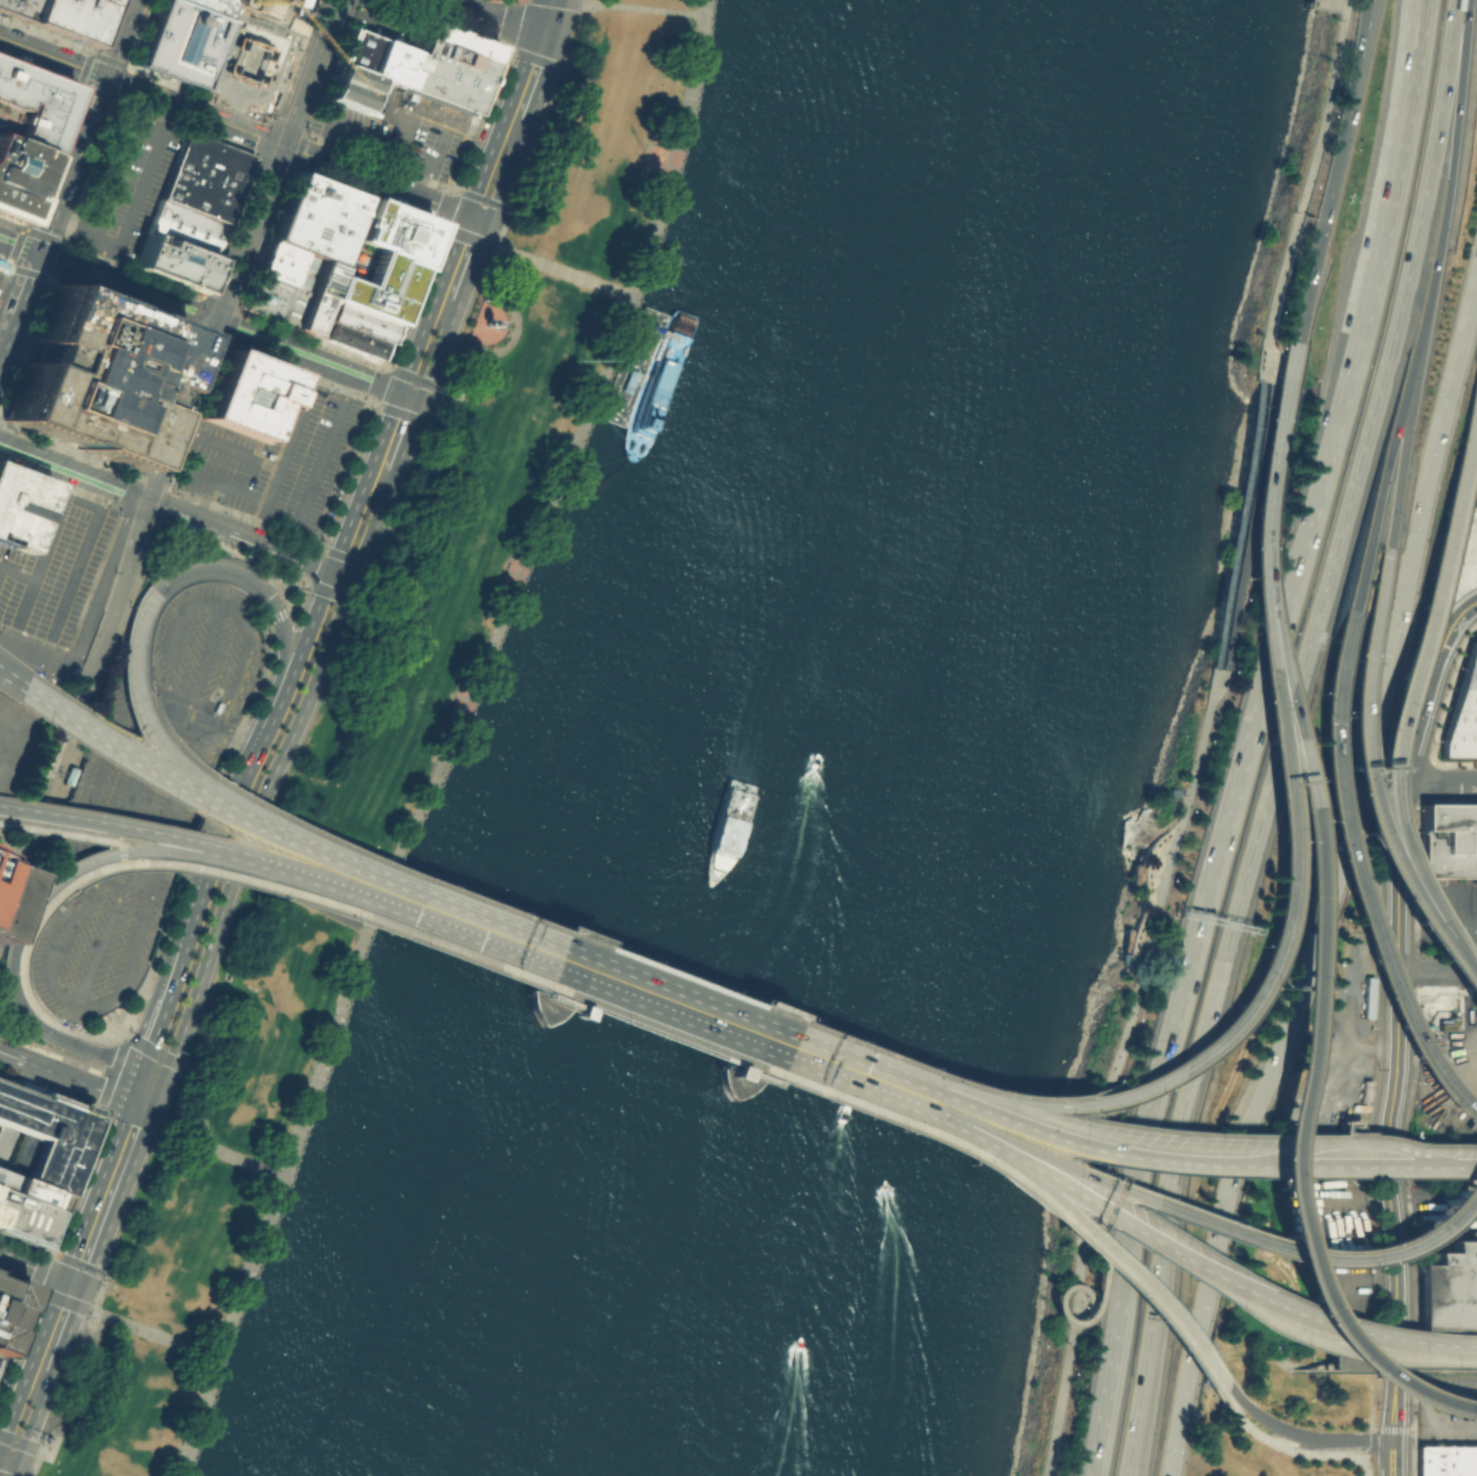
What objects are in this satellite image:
road: (569, 1)
road: (1339, 1)
road: (1347, 1)
road: (662, 4)
road: (253, 5)
building: (207, 6)
road: (640, 6)
building: (14, 9)
parking lot: (274, 12)
road: (289, 12)
road: (492, 17)
road: (548, 17)
building: (64, 18)
parking lot: (387, 24)
road: (393, 25)
traffic signals: (544, 34)
road: (118, 38)
building: (458, 40)
road: (1365, 40)
road: (1360, 41)
building: (179, 42)
road: (52, 56)
building: (372, 58)
building: (247, 61)
road: (1400, 70)
road: (1417, 71)
building: (444, 75)
traffic signals: (104, 77)
road: (542, 78)
building: (350, 89)
road: (115, 99)
road: (117, 100)
building: (29, 107)
road: (500, 121)
road: (409, 122)
parking lot: (390, 133)
road: (367, 134)
traffic signals: (283, 146)
road: (284, 146)
road: (671, 148)
road: (272, 161)
road: (277, 161)
road: (70, 165)
road: (433, 165)
road: (1308, 169)
road: (507, 171)
building: (112, 176)
road: (117, 176)
building: (205, 177)
building: (17, 178)
road: (1448, 181)
parking lot: (126, 187)
building: (323, 194)
road: (136, 204)
road: (1324, 211)
traffic signals: (466, 214)
road: (477, 218)
road: (436, 222)
traffic signals: (489, 222)
road: (440, 223)
building: (186, 228)
building: (309, 228)
road: (43, 234)
road: (477, 240)
road: (18, 246)
traffic signals: (37, 254)
road: (55, 259)
road: (103, 259)
parking lot: (376, 260)
road: (13, 263)
building: (172, 263)
road: (473, 263)
building: (276, 264)
parking lot: (2, 270)
road: (7, 270)
road: (561, 271)
road: (504, 275)
road: (125, 287)
road: (366, 293)
building: (279, 294)
building: (313, 296)
road: (18, 302)
road: (218, 302)
road: (432, 303)
road: (120, 305)
road: (196, 315)
road: (625, 317)
road: (233, 318)
building: (353, 320)
traffic signals: (214, 322)
road: (492, 327)
road: (652, 328)
road: (496, 329)
road: (225, 335)
building: (346, 338)
road: (205, 339)
road: (25, 343)
road: (439, 352)
road: (490, 354)
road: (306, 357)
flagpole: (574, 358)
road: (1263, 358)
road: (387, 364)
road: (195, 365)
road: (379, 365)
building: (638, 367)
road: (398, 370)
building: (91, 376)
railway: (181, 378)
road: (423, 381)
road: (374, 382)
building: (662, 384)
railway: (196, 385)
traffic signals: (399, 392)
building: (244, 394)
road: (410, 396)
road: (369, 397)
traffic signals: (422, 400)
road: (371, 403)
road: (163, 404)
road: (433, 404)
road: (402, 413)
road: (193, 414)
road: (407, 437)
road: (1270, 437)
railway: (158, 444)
road: (68, 449)
road: (325, 449)
road: (1388, 450)
road: (239, 453)
road: (1400, 453)
road: (160, 454)
parking lot: (274, 458)
railway: (165, 459)
road: (49, 461)
road: (340, 471)
road: (198, 476)
road: (274, 479)
road: (364, 482)
road: (160, 484)
road: (121, 489)
road: (86, 490)
traffic signals: (145, 500)
road: (81, 501)
building: (18, 506)
road: (169, 510)
road: (128, 514)
road: (1251, 517)
road: (1238, 524)
building: (1476, 527)
road: (103, 550)
road: (273, 551)
parking lot: (53, 565)
road: (223, 570)
road: (17, 571)
traffic signals: (330, 573)
road: (104, 579)
road: (1429, 580)
traffic signals: (353, 581)
road: (304, 582)
road: (293, 595)
road: (322, 595)
road: (1472, 602)
road: (217, 604)
road: (276, 616)
road: (279, 622)
road: (297, 623)
road: (254, 625)
road: (152, 650)
road: (299, 655)
road: (32, 656)
road: (283, 660)
road: (204, 661)
road: (129, 662)
road: (11, 679)
road: (1213, 680)
road: (77, 706)
building: (1462, 708)
road: (145, 713)
road: (200, 723)
road: (1283, 732)
road: (437, 733)
road: (1352, 733)
road: (81, 737)
park: (383, 738)
road: (1195, 738)
parking lot: (15, 739)
road: (247, 740)
river: (856, 742)
road: (9, 743)
road: (1205, 745)
road: (124, 751)
park: (1185, 767)
railway: (55, 769)
road: (104, 774)
building: (75, 775)
road: (278, 776)
road: (1439, 783)
road: (136, 796)
parking lot: (145, 801)
road: (1229, 805)
road: (271, 807)
road: (213, 809)
road: (1283, 812)
road: (50, 813)
road: (231, 822)
road: (1307, 826)
road: (170, 830)
road: (61, 832)
road: (165, 833)
road: (286, 837)
road: (121, 838)
road: (1387, 838)
building: (1448, 839)
road: (1341, 842)
road: (122, 854)
road: (103, 856)
road: (22, 857)
road: (283, 862)
road: (204, 869)
road: (1333, 877)
road: (394, 882)
road: (75, 886)
road: (379, 888)
road: (53, 902)
road: (499, 905)
parking lot: (1446, 917)
road: (490, 930)
traffic signals: (527, 944)
road: (132, 954)
road: (479, 958)
road: (1444, 959)
road: (1437, 973)
road: (687, 977)
road: (619, 979)
road: (158, 988)
road: (25, 991)
road: (14, 996)
road: (65, 996)
road: (608, 1006)
road: (160, 1009)
building: (584, 1012)
road: (137, 1015)
park: (15, 1021)
road: (738, 1025)
road: (1397, 1033)
road: (92, 1036)
traffic signals: (149, 1041)
road: (876, 1049)
road: (55, 1051)
road: (98, 1051)
road: (153, 1051)
road: (727, 1052)
road: (11, 1055)
traffic signals: (831, 1060)
road: (115, 1062)
road: (152, 1072)
building: (741, 1072)
road: (867, 1073)
road: (76, 1080)
road: (1115, 1081)
road: (135, 1084)
road: (159, 1092)
road: (1021, 1096)
road: (1122, 1099)
road: (856, 1101)
road: (141, 1104)
road: (1070, 1105)
road: (1381, 1120)
road: (1348, 1123)
road: (1364, 1124)
road: (1476, 1125)
road: (983, 1127)
road: (1347, 1128)
traffic signals: (145, 1129)
building: (38, 1134)
road: (1275, 1135)
road: (201, 1143)
road: (1091, 1146)
road: (1288, 1151)
road: (87, 1153)
road: (1269, 1162)
road: (1349, 1162)
road: (1444, 1162)
road: (1436, 1167)
road: (1024, 1181)
building: (5, 1182)
road: (97, 1189)
building: (33, 1194)
road: (119, 1197)
road: (1422, 1199)
road: (1176, 1209)
building: (23, 1219)
road: (265, 1223)
road: (1411, 1240)
road: (76, 1262)
road: (1129, 1267)
road: (41, 1270)
road: (42, 1270)
traffic signals: (63, 1279)
traffic signals: (85, 1287)
building: (1449, 1288)
road: (1239, 1291)
road: (45, 1292)
road: (72, 1304)
building: (8, 1306)
road: (24, 1315)
road: (1074, 1320)
road: (1090, 1322)
road: (1168, 1324)
road: (68, 1329)
road: (152, 1332)
road: (1331, 1332)
road: (1436, 1359)
road: (1340, 1360)
road: (31, 1362)
road: (78, 1381)
road: (94, 1387)
road: (1373, 1395)
road: (1435, 1395)
road: (1471, 1409)
road: (35, 1417)
road: (1260, 1417)
road: (1241, 1421)
road: (1382, 1429)
park: (13, 1439)
road: (1347, 1439)
road: (1286, 1440)
road: (19, 1443)
road: (1373, 1445)
road: (1322, 1453)
road: (9, 1459)
building: (1446, 1460)
traffic signals: (19, 1463)
road: (16, 1469)
road: (1127, 1472)

